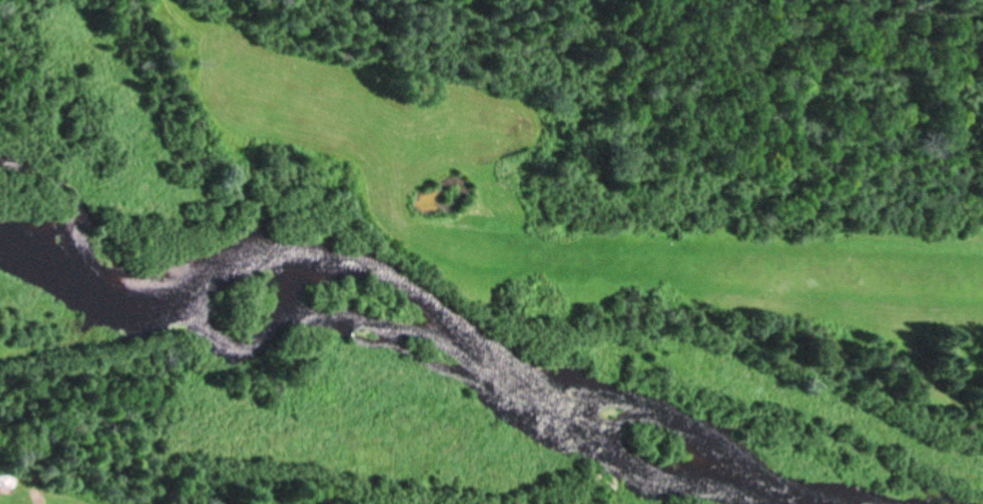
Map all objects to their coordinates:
park: (569, 49)
river: (431, 298)
road: (40, 483)

